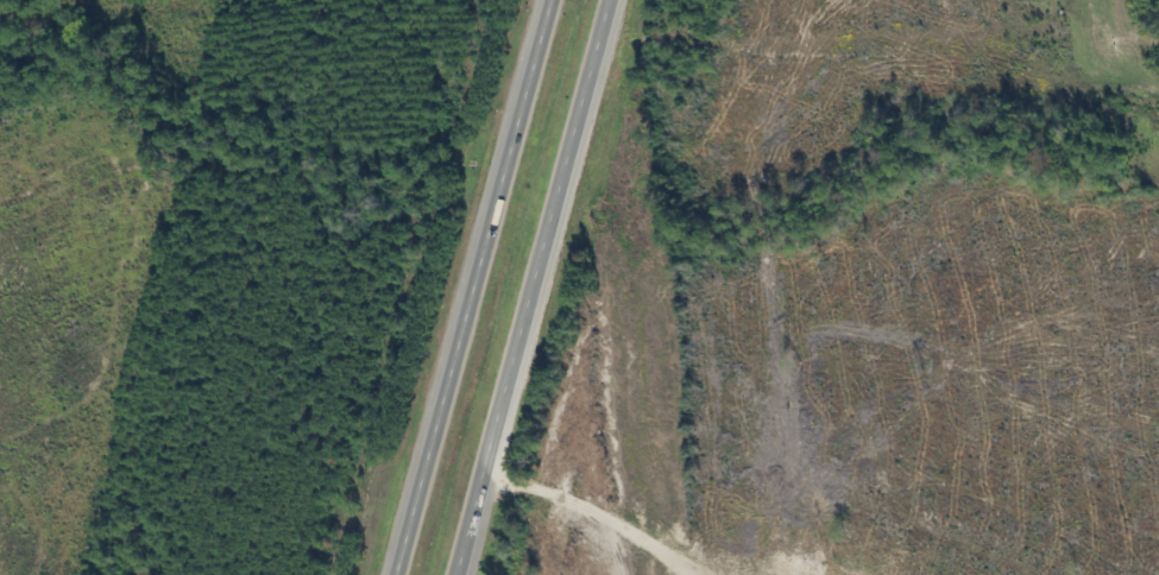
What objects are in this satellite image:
road: (480, 287)
road: (536, 287)

